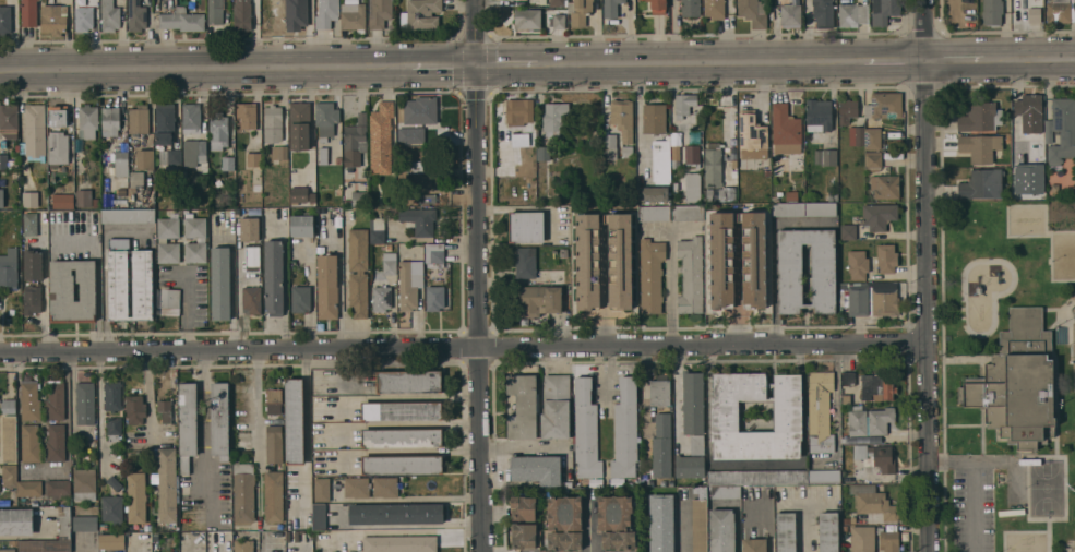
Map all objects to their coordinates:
building: (557, 2)
building: (658, 7)
building: (611, 8)
building: (690, 8)
building: (714, 9)
building: (217, 10)
building: (884, 11)
building: (1034, 11)
building: (1058, 11)
building: (28, 12)
building: (581, 12)
building: (753, 12)
building: (992, 12)
building: (326, 13)
building: (379, 13)
building: (823, 13)
building: (296, 14)
building: (420, 14)
building: (790, 14)
building: (852, 14)
building: (136, 15)
building: (242, 15)
building: (109, 16)
building: (354, 16)
building: (53, 19)
building: (84, 19)
building: (527, 19)
building: (5, 20)
building: (181, 20)
building: (559, 21)
road: (998, 60)
road: (698, 63)
traffic signals: (478, 67)
road: (239, 68)
building: (684, 104)
building: (886, 105)
road: (637, 108)
building: (426, 109)
building: (1027, 109)
building: (518, 110)
building: (847, 110)
building: (247, 115)
building: (817, 115)
building: (57, 116)
building: (190, 117)
building: (554, 117)
building: (979, 117)
building: (622, 118)
building: (654, 118)
building: (139, 119)
building: (326, 119)
building: (9, 120)
building: (88, 120)
building: (110, 121)
building: (165, 123)
building: (272, 123)
building: (299, 125)
building: (34, 130)
building: (785, 130)
building: (218, 131)
building: (1016, 133)
building: (1068, 133)
building: (415, 134)
building: (752, 135)
building: (856, 135)
building: (381, 139)
building: (873, 139)
building: (519, 140)
building: (355, 141)
building: (1036, 141)
building: (58, 146)
building: (609, 146)
building: (979, 146)
building: (733, 151)
building: (193, 152)
building: (542, 152)
building: (628, 152)
building: (279, 153)
building: (674, 155)
building: (692, 155)
building: (323, 156)
building: (825, 156)
building: (169, 158)
building: (145, 159)
building: (253, 159)
building: (337, 159)
building: (3, 160)
building: (660, 161)
building: (873, 161)
building: (227, 163)
building: (121, 164)
building: (713, 165)
building: (425, 173)
building: (136, 179)
building: (981, 184)
building: (885, 185)
building: (676, 187)
building: (693, 187)
building: (256, 188)
building: (1054, 188)
building: (653, 193)
building: (720, 193)
building: (299, 194)
building: (791, 194)
building: (833, 196)
building: (1, 197)
building: (84, 197)
building: (29, 199)
building: (358, 199)
building: (427, 199)
building: (62, 201)
building: (96, 202)
building: (804, 209)
building: (688, 212)
building: (654, 213)
building: (129, 216)
building: (879, 216)
building: (419, 219)
building: (31, 224)
building: (301, 226)
building: (525, 226)
building: (249, 228)
building: (378, 230)
building: (848, 231)
building: (162, 240)
building: (201, 240)
building: (2, 242)
building: (389, 247)
building: (1, 250)
building: (563, 252)
building: (433, 253)
road: (775, 257)
building: (886, 257)
building: (252, 259)
building: (754, 262)
building: (390, 263)
building: (525, 263)
building: (33, 264)
building: (858, 264)
building: (620, 265)
building: (9, 269)
building: (358, 272)
building: (823, 273)
building: (650, 275)
building: (690, 275)
road: (478, 276)
road: (924, 276)
building: (274, 277)
building: (220, 283)
road: (285, 283)
road: (339, 284)
building: (409, 284)
building: (327, 287)
building: (844, 287)
building: (118, 288)
road: (670, 288)
building: (73, 290)
road: (237, 296)
building: (434, 298)
building: (883, 298)
building: (32, 299)
building: (300, 299)
building: (381, 299)
building: (251, 300)
building: (538, 300)
building: (858, 300)
building: (169, 301)
road: (184, 312)
park: (1074, 334)
road: (463, 348)
park: (1011, 376)
building: (848, 379)
building: (408, 381)
building: (1017, 382)
building: (876, 387)
building: (660, 393)
road: (677, 393)
building: (112, 395)
building: (56, 400)
road: (147, 400)
building: (29, 401)
building: (273, 401)
building: (85, 403)
building: (693, 403)
building: (8, 406)
building: (523, 407)
building: (556, 407)
building: (135, 409)
building: (165, 410)
building: (402, 410)
building: (820, 411)
building: (725, 416)
road: (202, 419)
building: (219, 419)
building: (880, 419)
building: (295, 421)
building: (857, 422)
building: (187, 423)
building: (114, 428)
building: (586, 430)
building: (624, 432)
building: (402, 437)
building: (10, 439)
road: (258, 439)
building: (31, 443)
building: (56, 443)
building: (274, 444)
building: (696, 444)
building: (661, 445)
road: (523, 448)
building: (876, 456)
road: (756, 464)
building: (402, 465)
building: (689, 466)
building: (537, 469)
building: (9, 476)
building: (756, 477)
building: (824, 477)
building: (114, 483)
building: (636, 483)
road: (977, 483)
building: (84, 484)
building: (167, 485)
building: (58, 487)
building: (29, 488)
building: (356, 488)
building: (385, 488)
building: (321, 489)
building: (243, 492)
building: (725, 492)
building: (274, 496)
building: (136, 497)
building: (873, 502)
building: (111, 508)
building: (523, 508)
parking lot: (972, 509)
building: (614, 512)
building: (564, 513)
building: (396, 514)
building: (319, 517)
building: (698, 520)
building: (846, 520)
building: (16, 521)
building: (63, 523)
building: (85, 523)
building: (661, 523)
road: (808, 526)
road: (587, 527)
building: (147, 528)
building: (721, 530)
road: (683, 531)
building: (786, 531)
building: (828, 531)
building: (524, 536)
building: (618, 539)
building: (862, 539)
building: (565, 540)
building: (888, 540)
building: (111, 541)
building: (399, 543)
building: (754, 544)
building: (45, 545)
building: (243, 545)
building: (8, 550)

